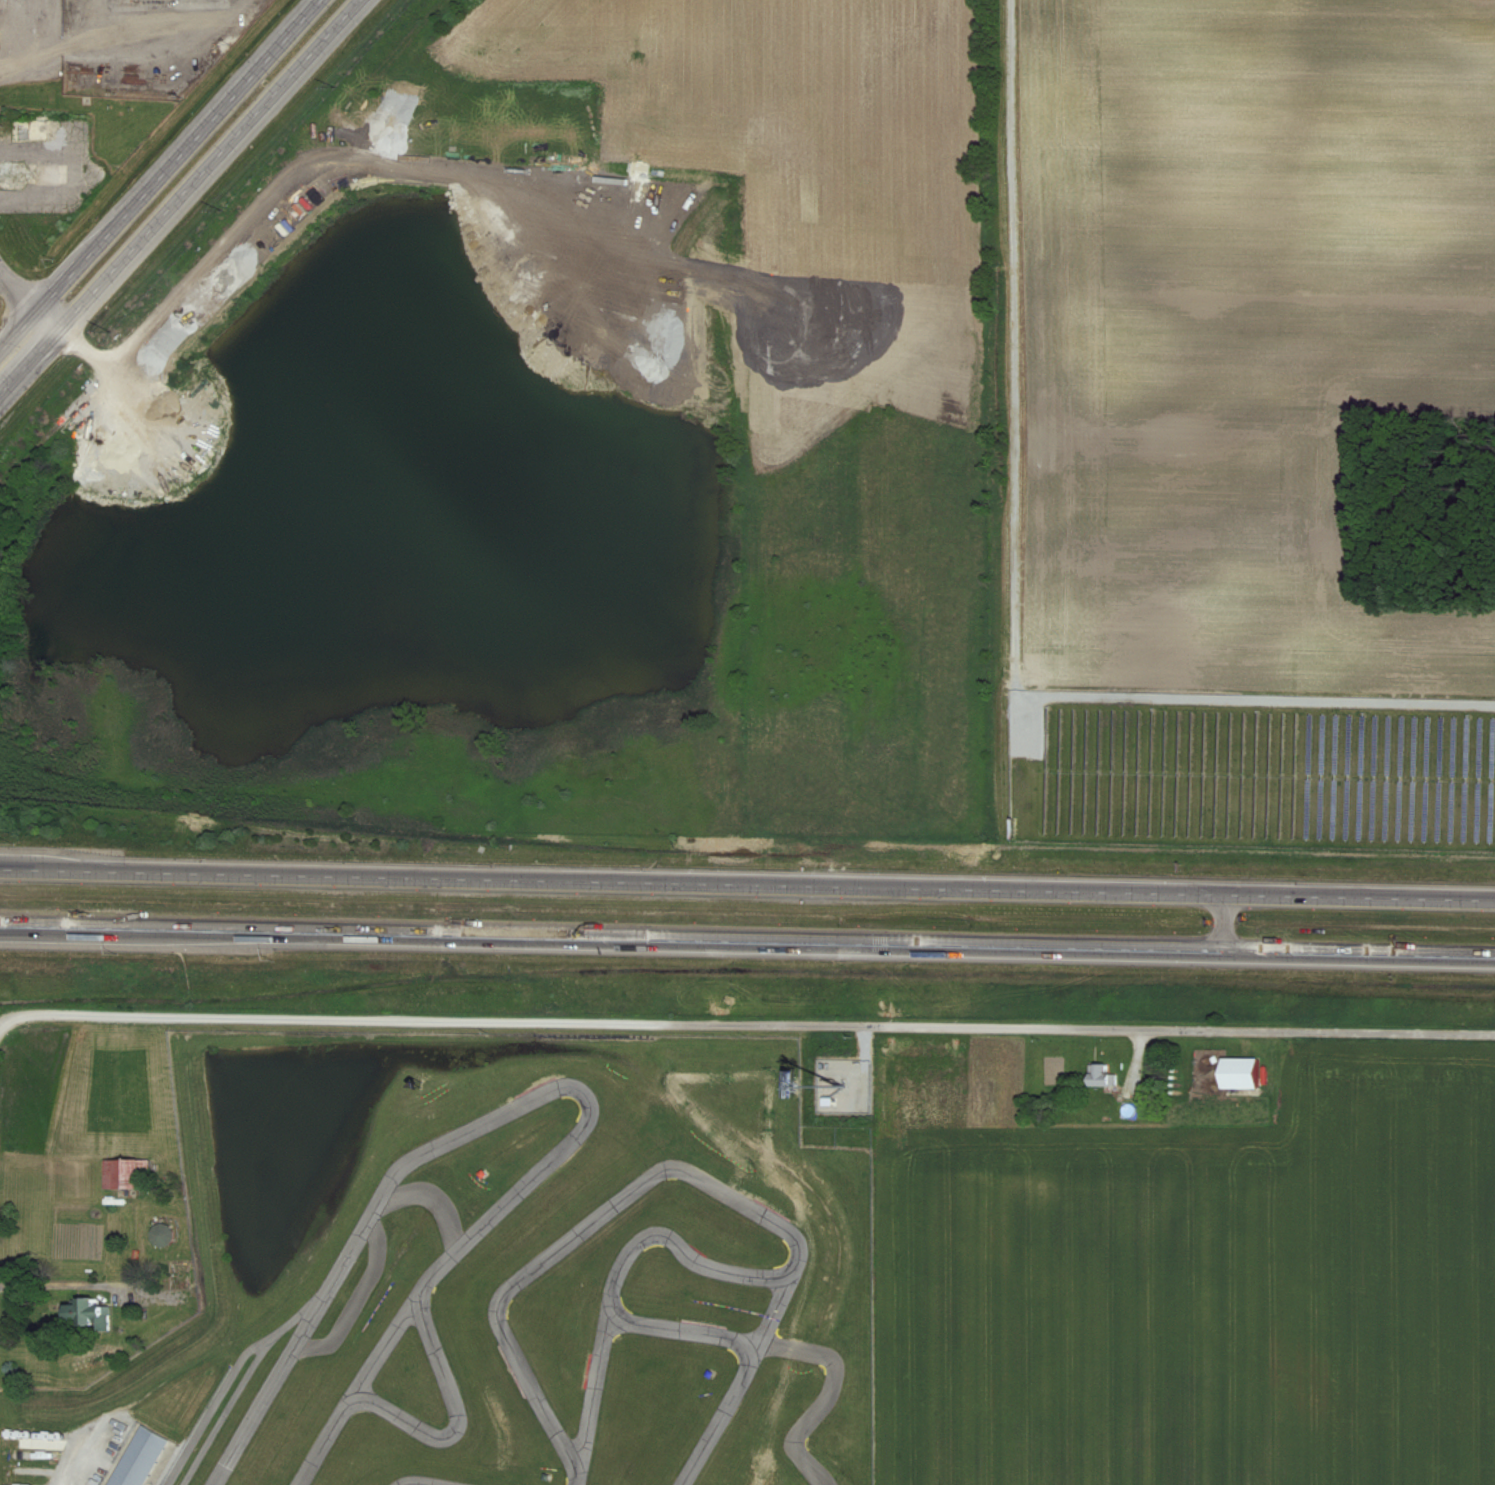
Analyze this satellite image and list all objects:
parking lot: (112, 34)
road: (135, 66)
road: (178, 154)
road: (214, 164)
road: (4, 281)
road: (21, 291)
road: (50, 317)
road: (21, 333)
road: (29, 357)
road: (1013, 374)
solar farm: (1267, 769)
road: (747, 885)
road: (1221, 923)
road: (747, 940)
road: (747, 1024)
raceway: (488, 1036)
road: (1139, 1057)
road: (866, 1063)
building: (1239, 1074)
building: (1100, 1076)
raceway: (548, 1090)
building: (122, 1172)
building: (160, 1234)
raceway: (374, 1239)
raceway: (792, 1239)
building: (86, 1316)
raceway: (773, 1316)
raceway: (236, 1378)
raceway: (594, 1381)
raceway: (832, 1395)
raceway: (455, 1418)
road: (76, 1454)
building: (141, 1459)
raceway: (414, 1484)

